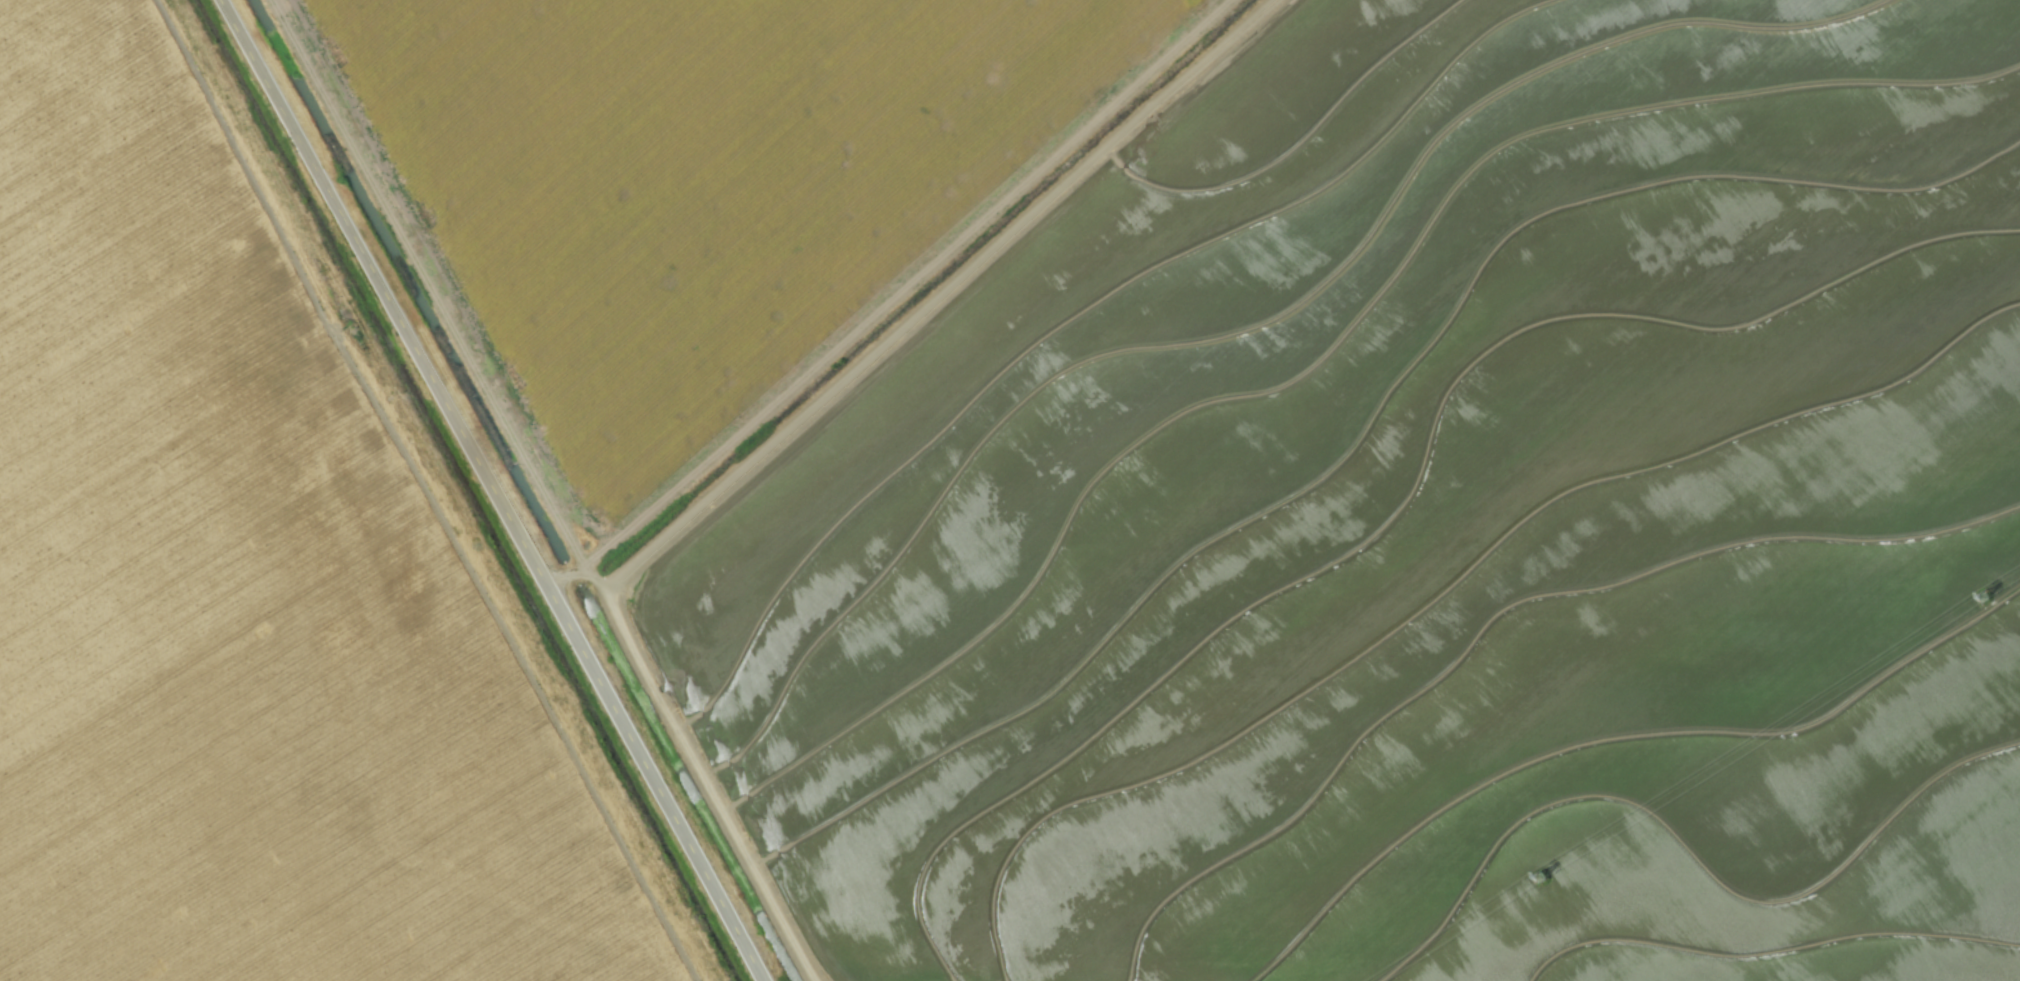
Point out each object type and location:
road: (497, 490)
crop: (1010, 490)
power tower: (1988, 600)
power tower: (1545, 882)

